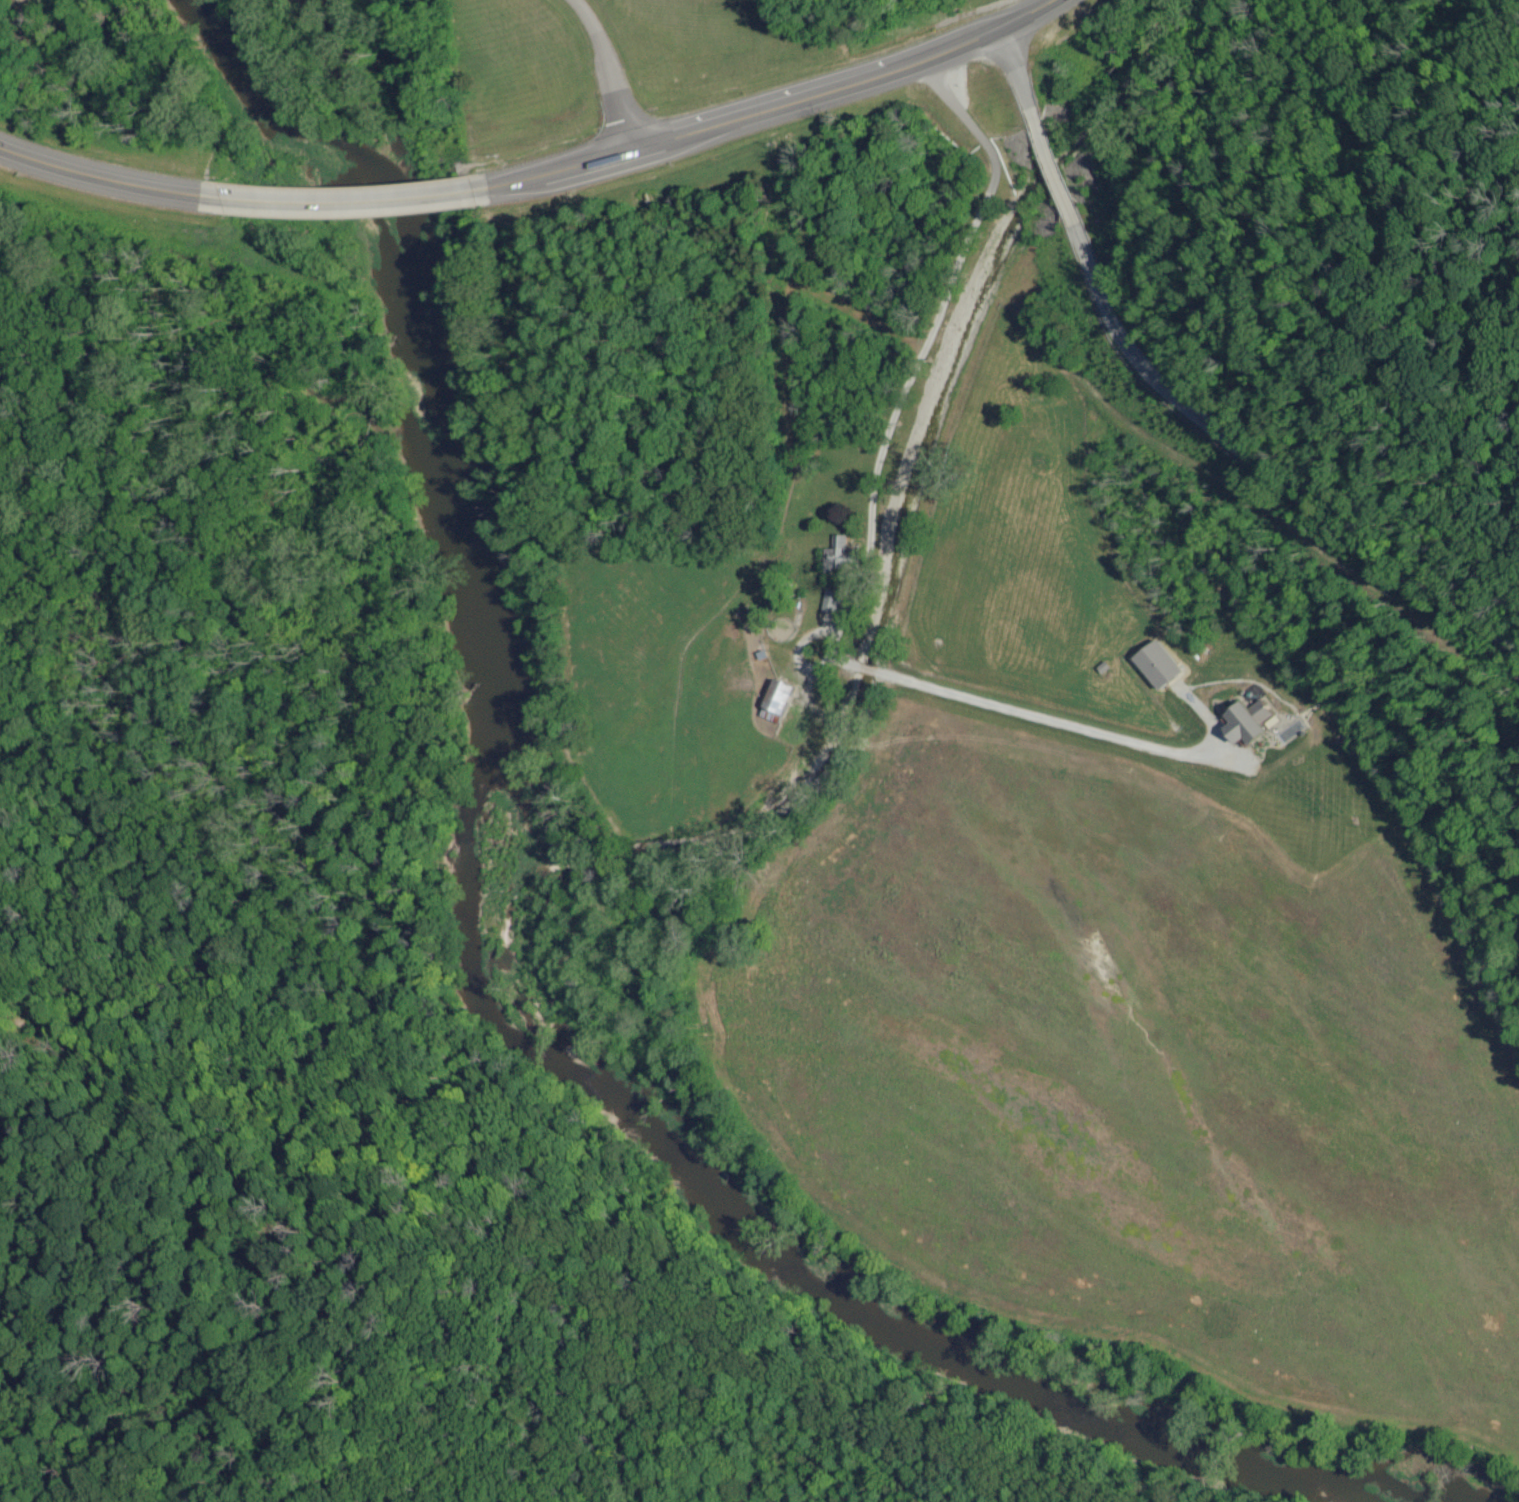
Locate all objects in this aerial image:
road: (1017, 66)
road: (608, 71)
road: (776, 109)
road: (1052, 165)
road: (110, 179)
road: (356, 203)
road: (1274, 460)
building: (1154, 663)
building: (1244, 721)

